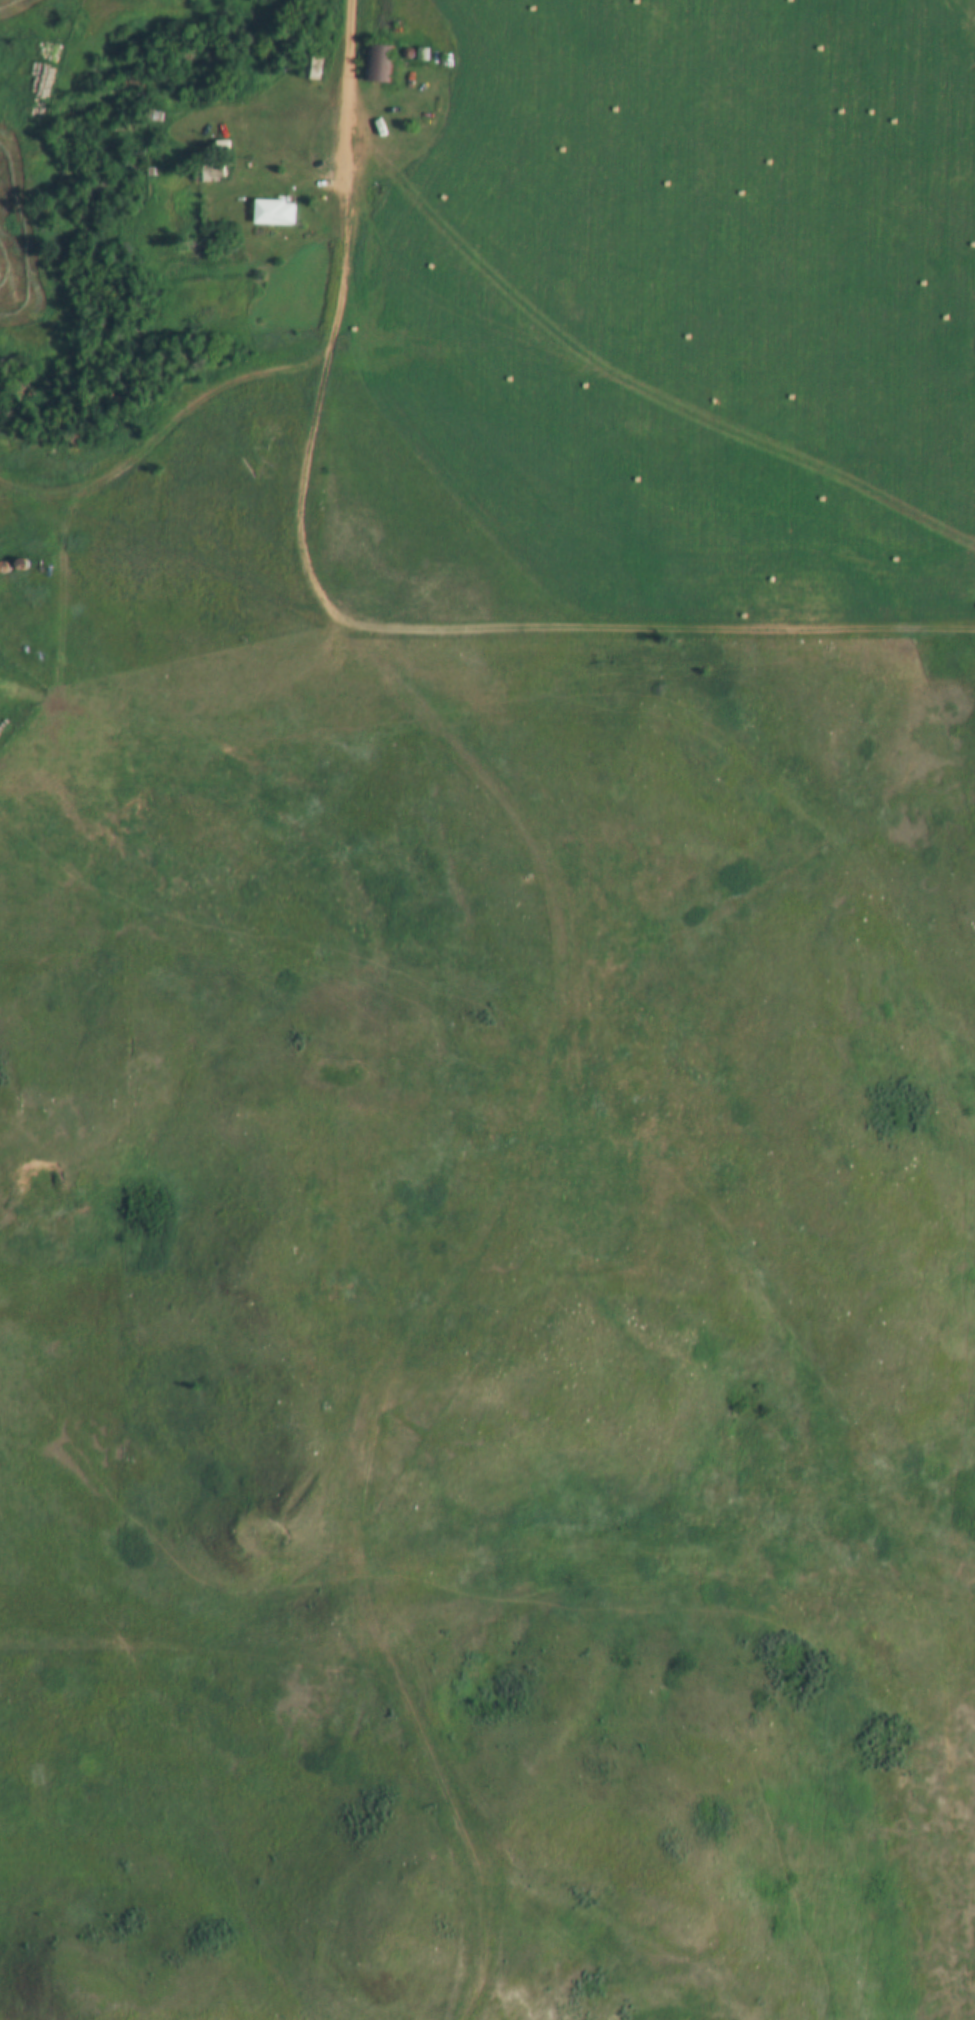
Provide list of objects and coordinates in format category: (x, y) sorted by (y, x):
building: (378, 64)
building: (314, 68)
building: (210, 170)
road: (341, 186)
building: (274, 212)

